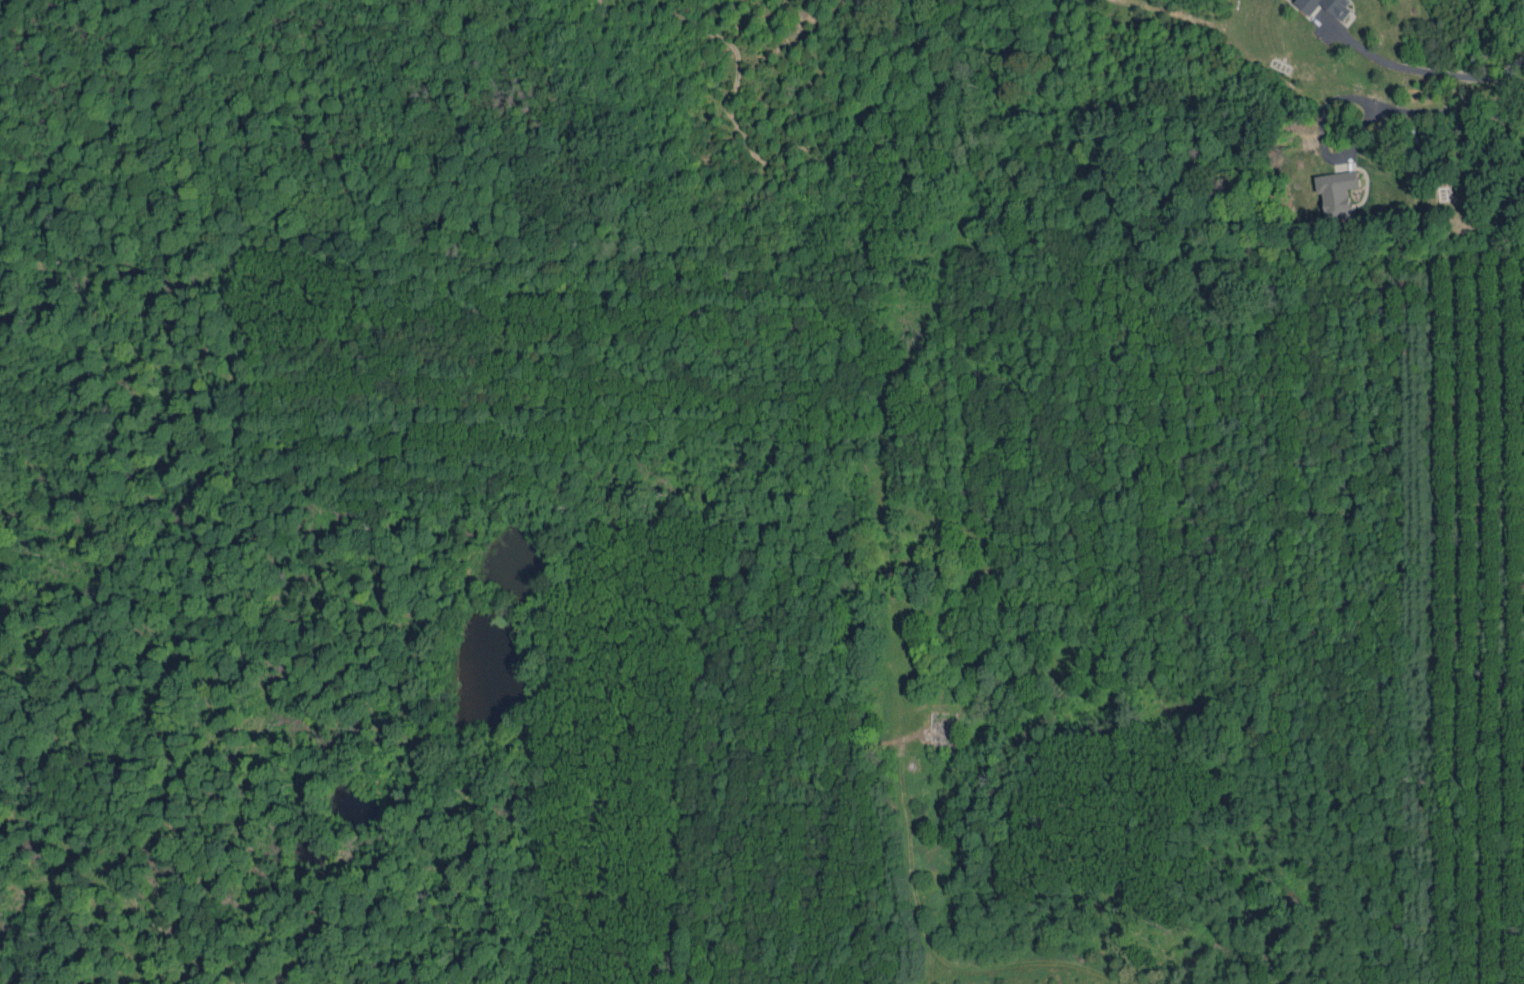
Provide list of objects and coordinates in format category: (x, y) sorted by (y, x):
building: (1326, 6)
road: (1422, 69)
road: (1402, 110)
building: (1337, 193)

